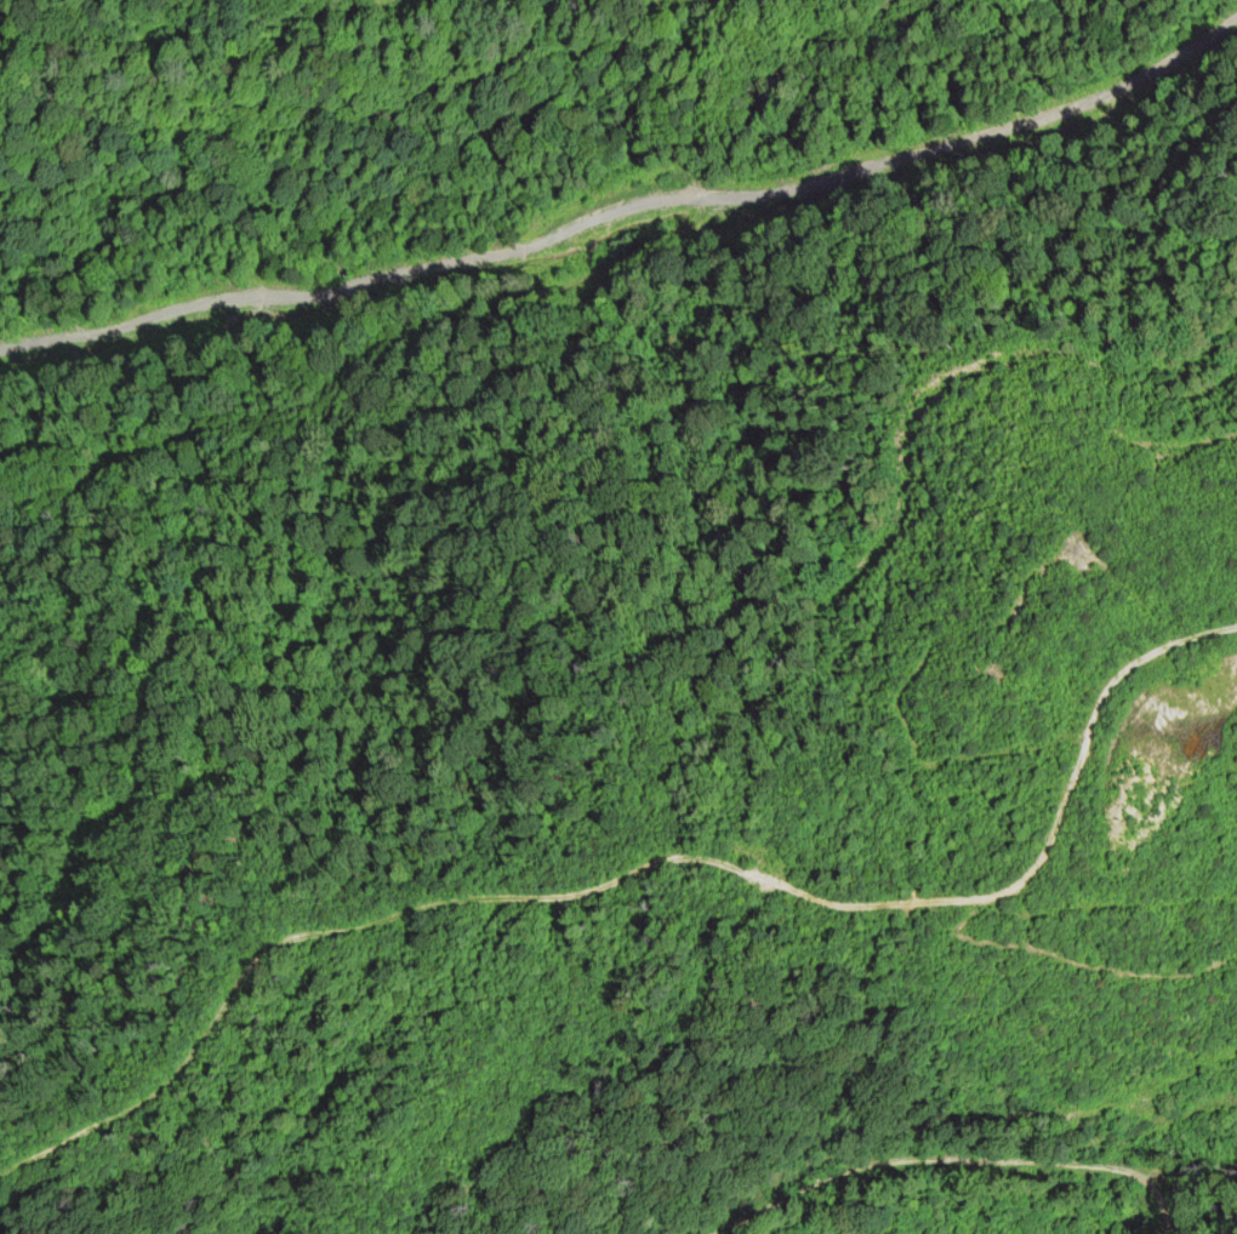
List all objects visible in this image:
road: (626, 205)

